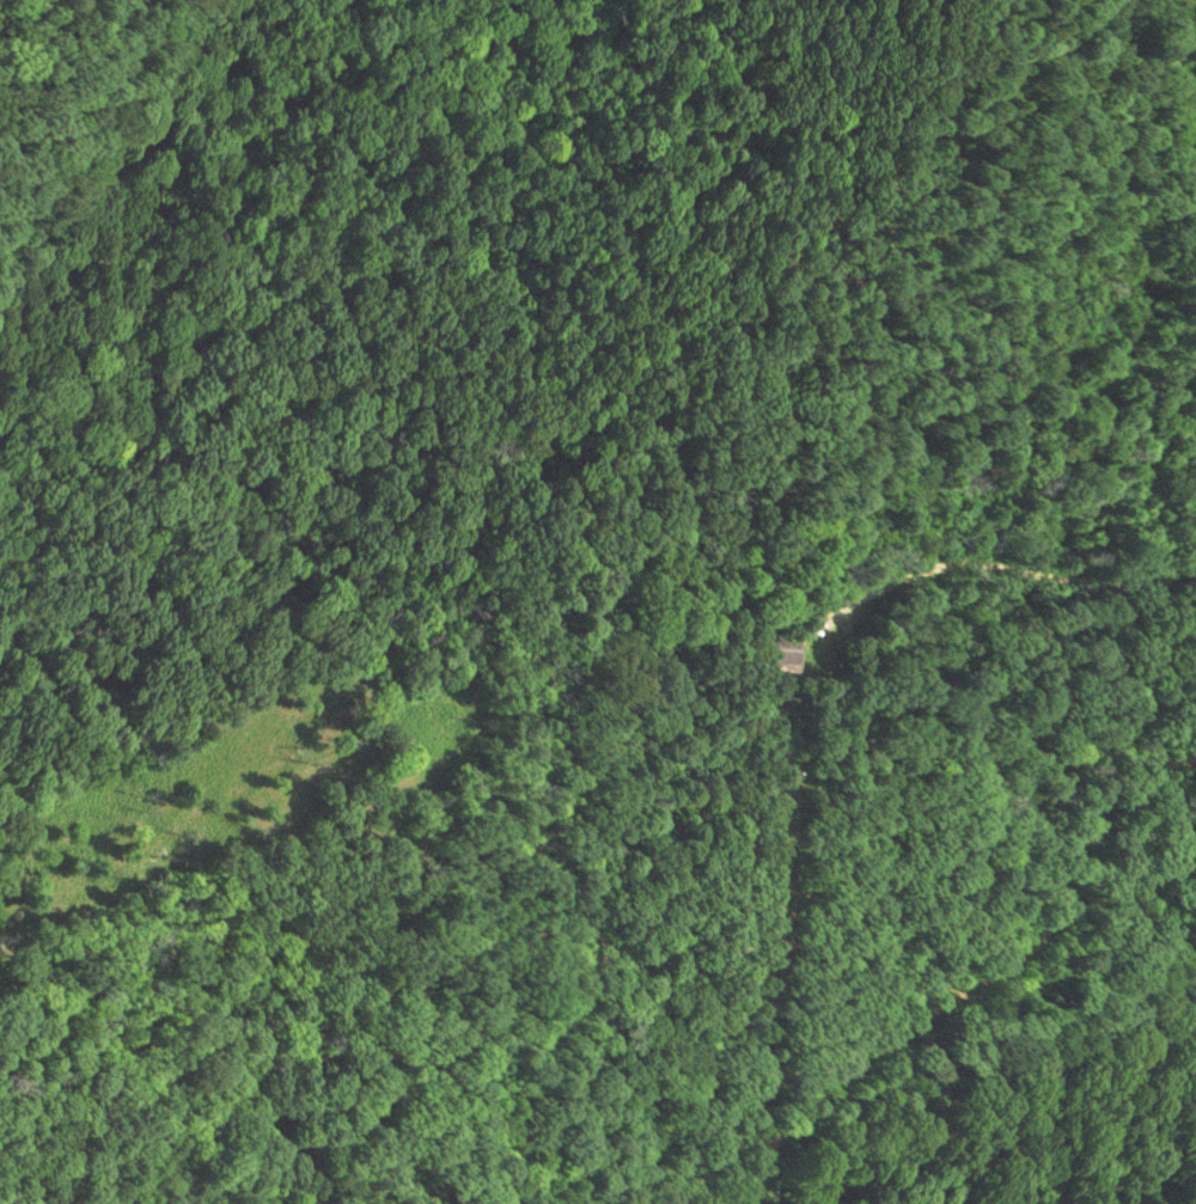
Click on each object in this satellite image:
building: (774, 647)

